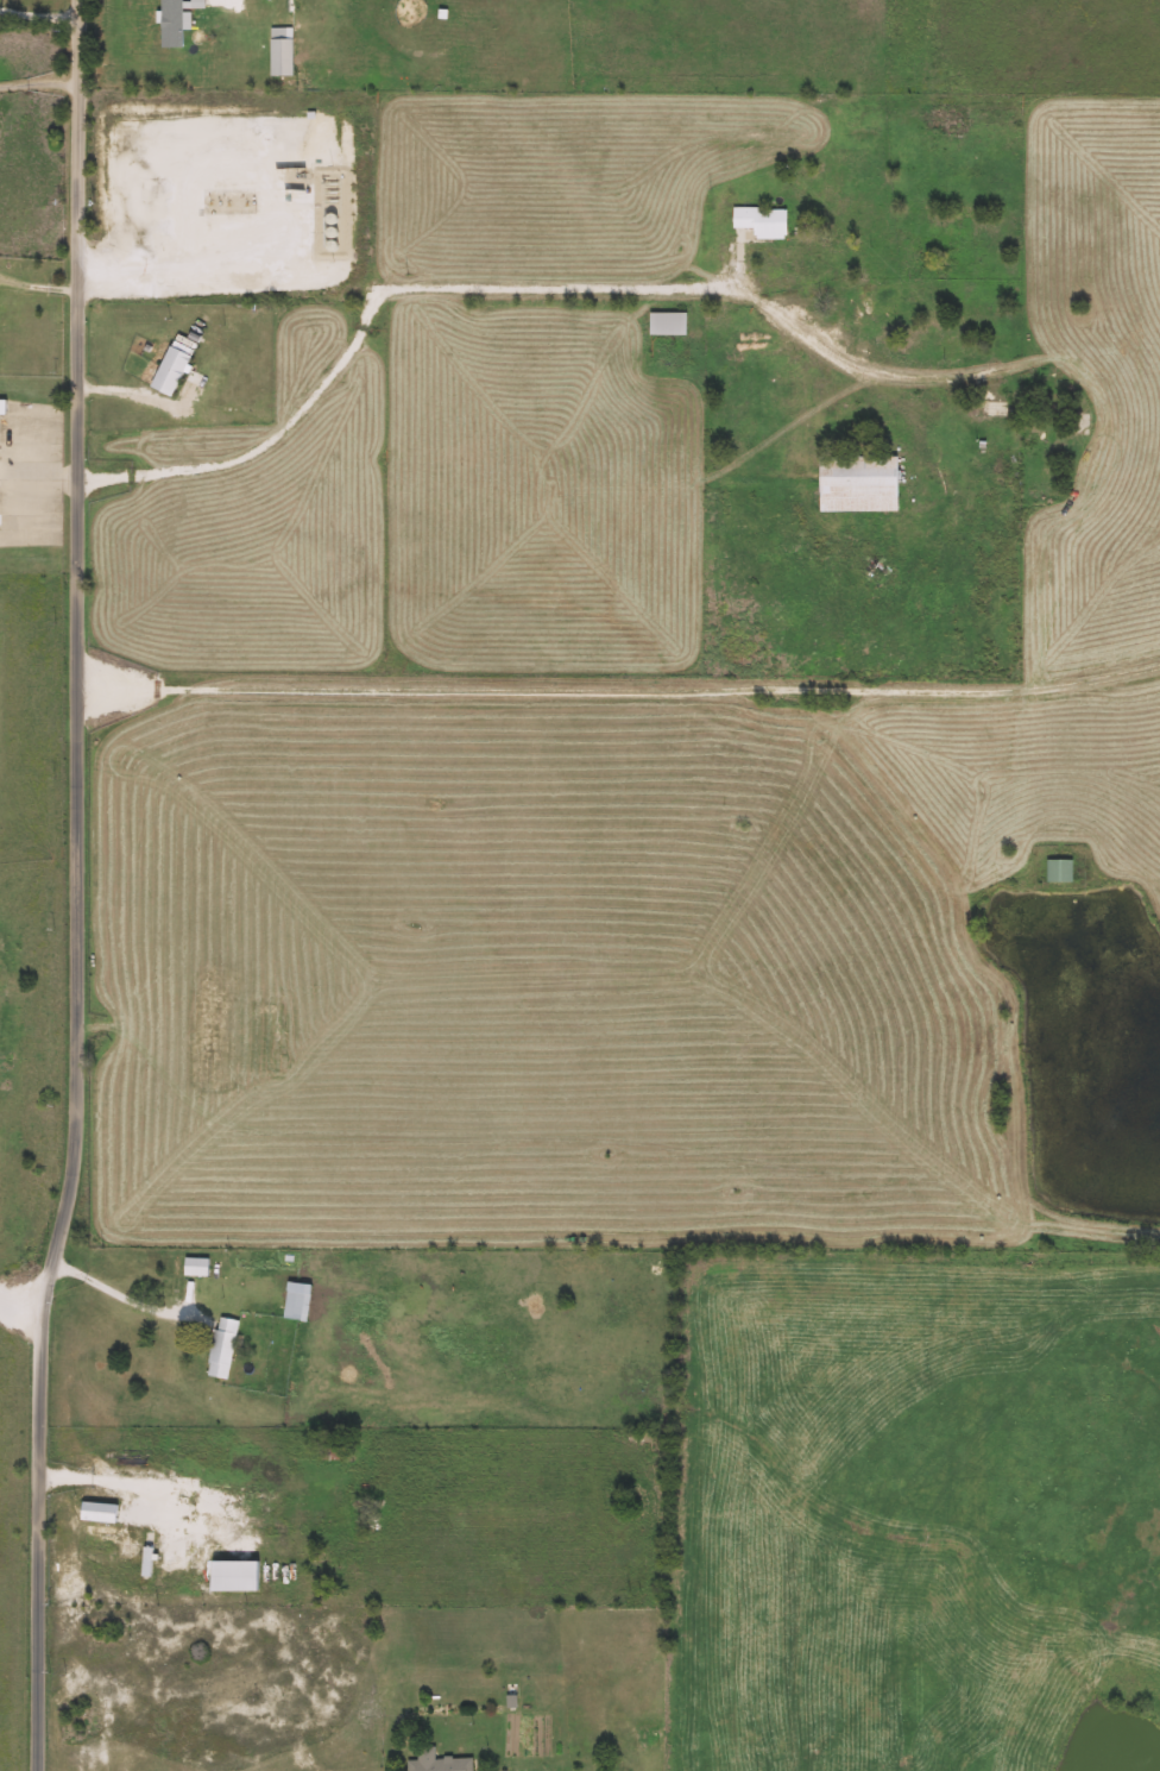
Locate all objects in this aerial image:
road: (34, 17)
building: (177, 20)
building: (282, 51)
road: (37, 82)
building: (763, 220)
road: (471, 284)
road: (37, 288)
building: (669, 322)
building: (172, 370)
road: (141, 398)
building: (2, 407)
building: (860, 483)
road: (618, 692)
building: (1060, 869)
road: (78, 886)
building: (197, 1267)
road: (124, 1294)
building: (297, 1301)
road: (25, 1307)
building: (223, 1348)
road: (149, 1486)
building: (100, 1513)
building: (147, 1563)
building: (439, 1763)

